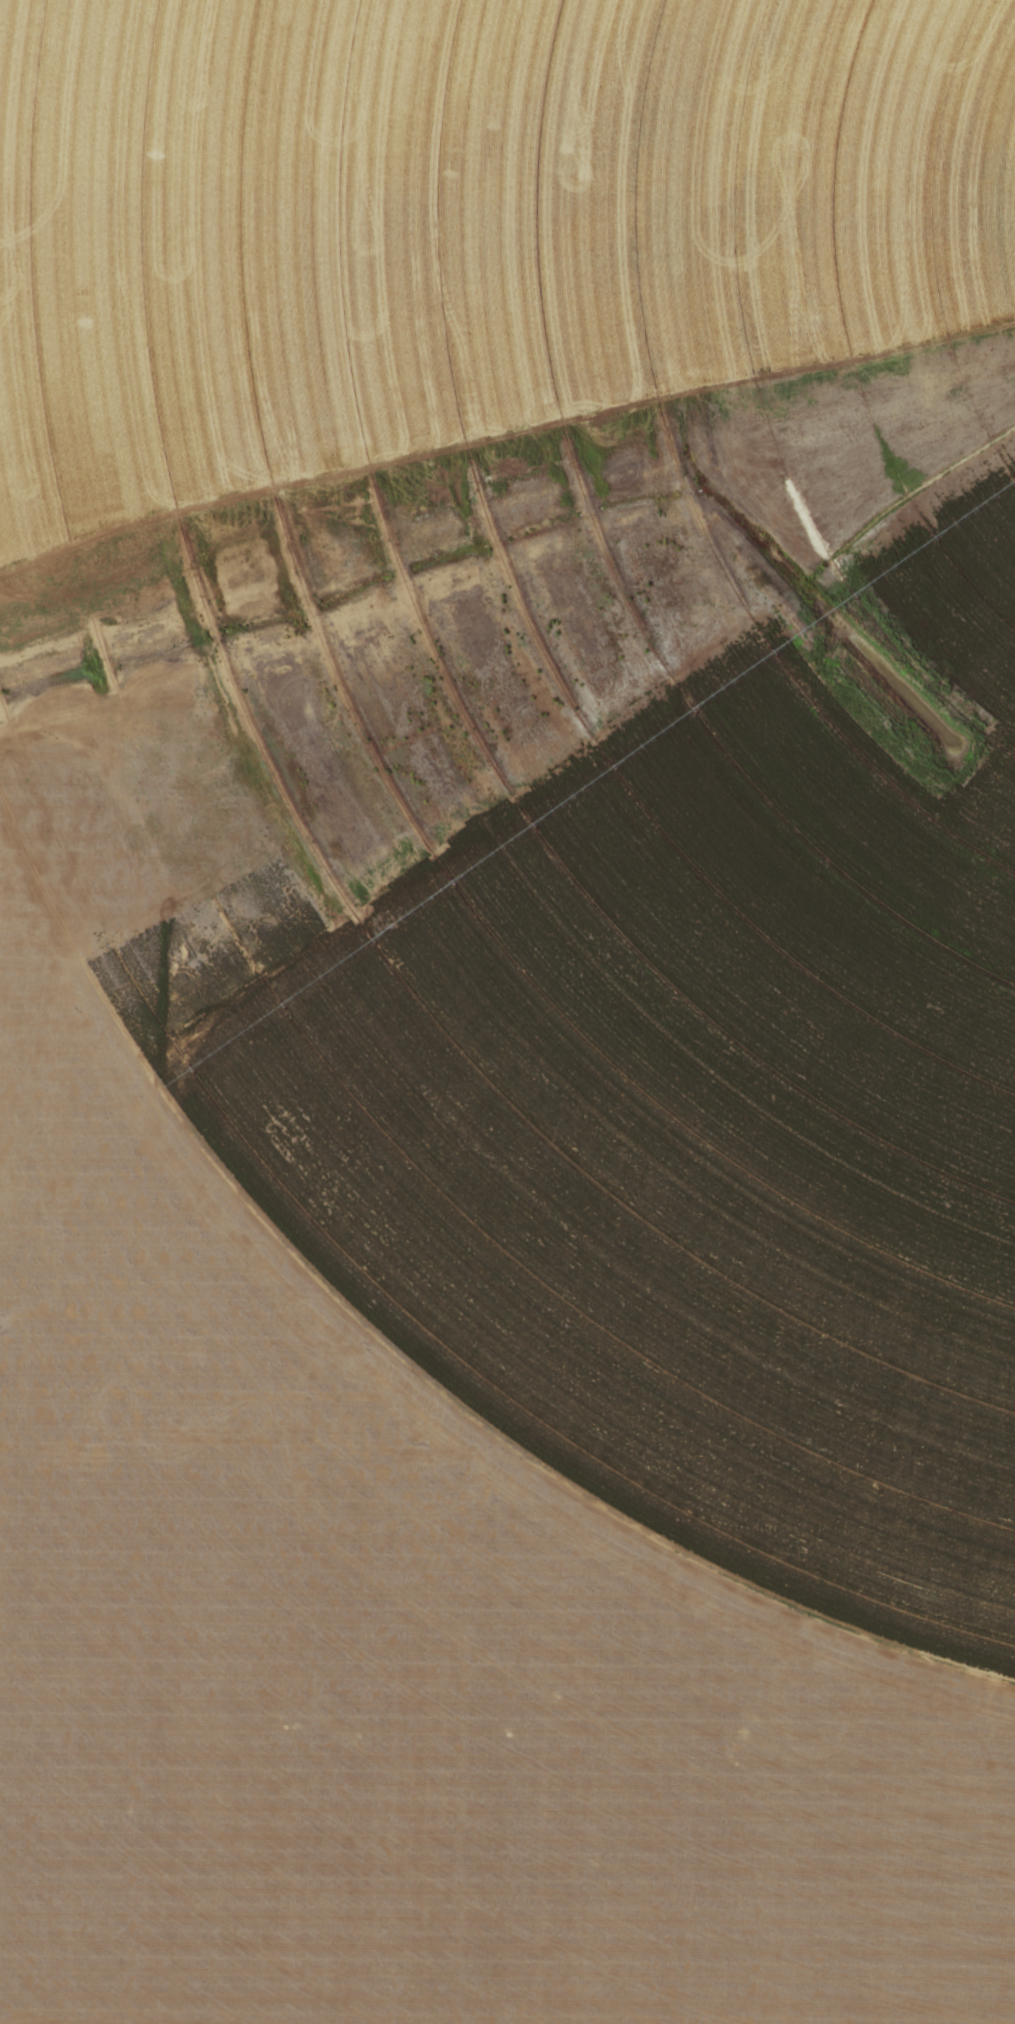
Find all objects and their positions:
road: (889, 28)

